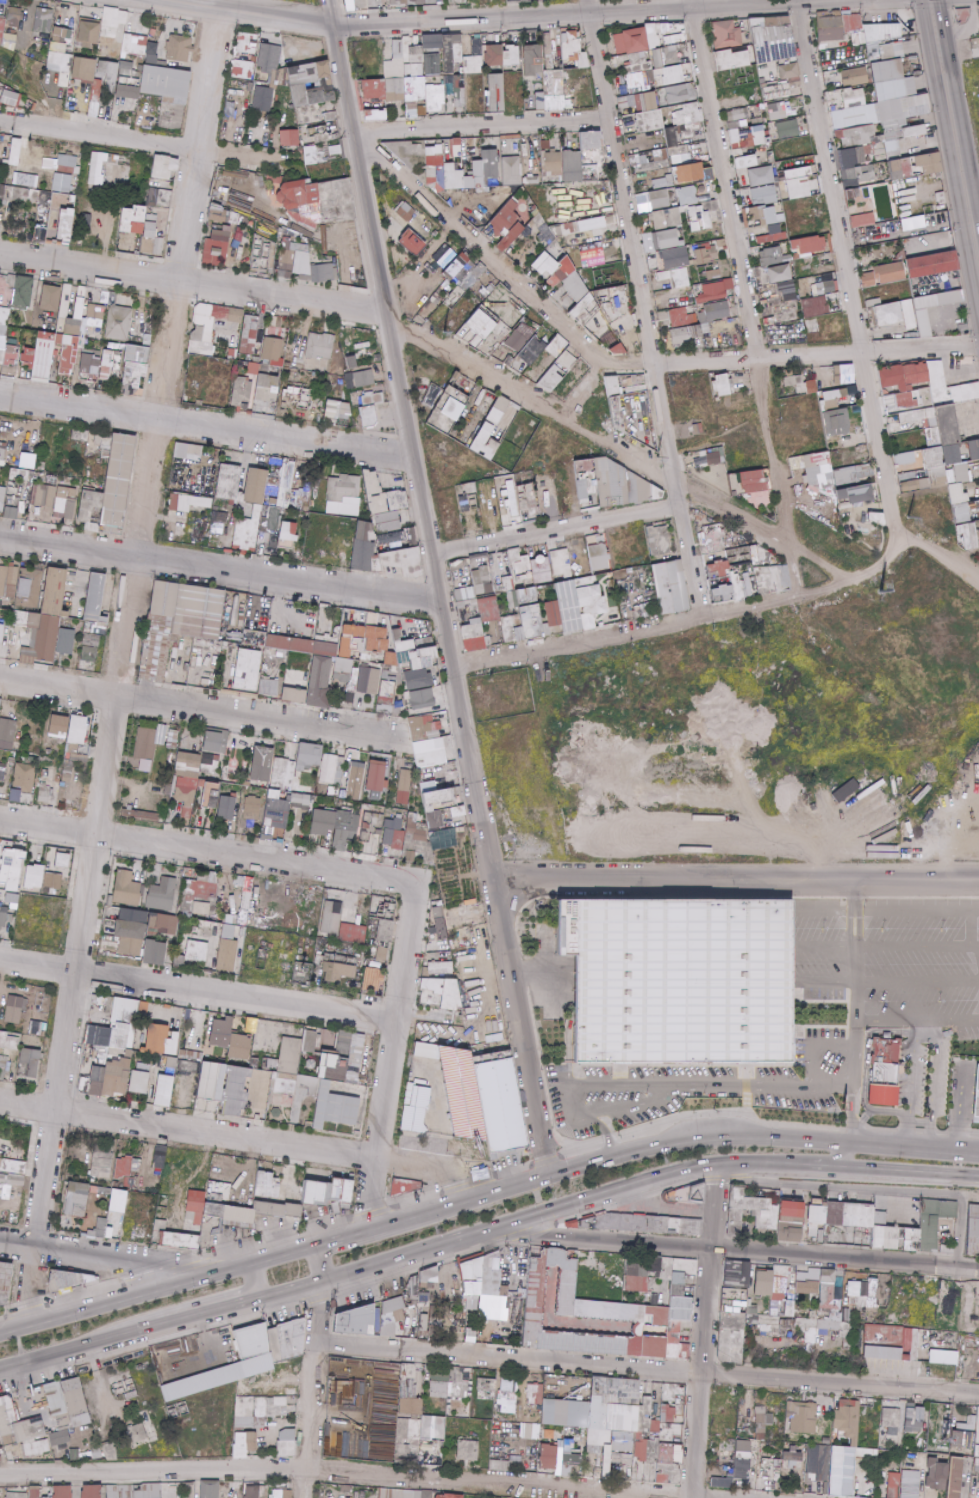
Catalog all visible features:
gas station: (973, 1091)

